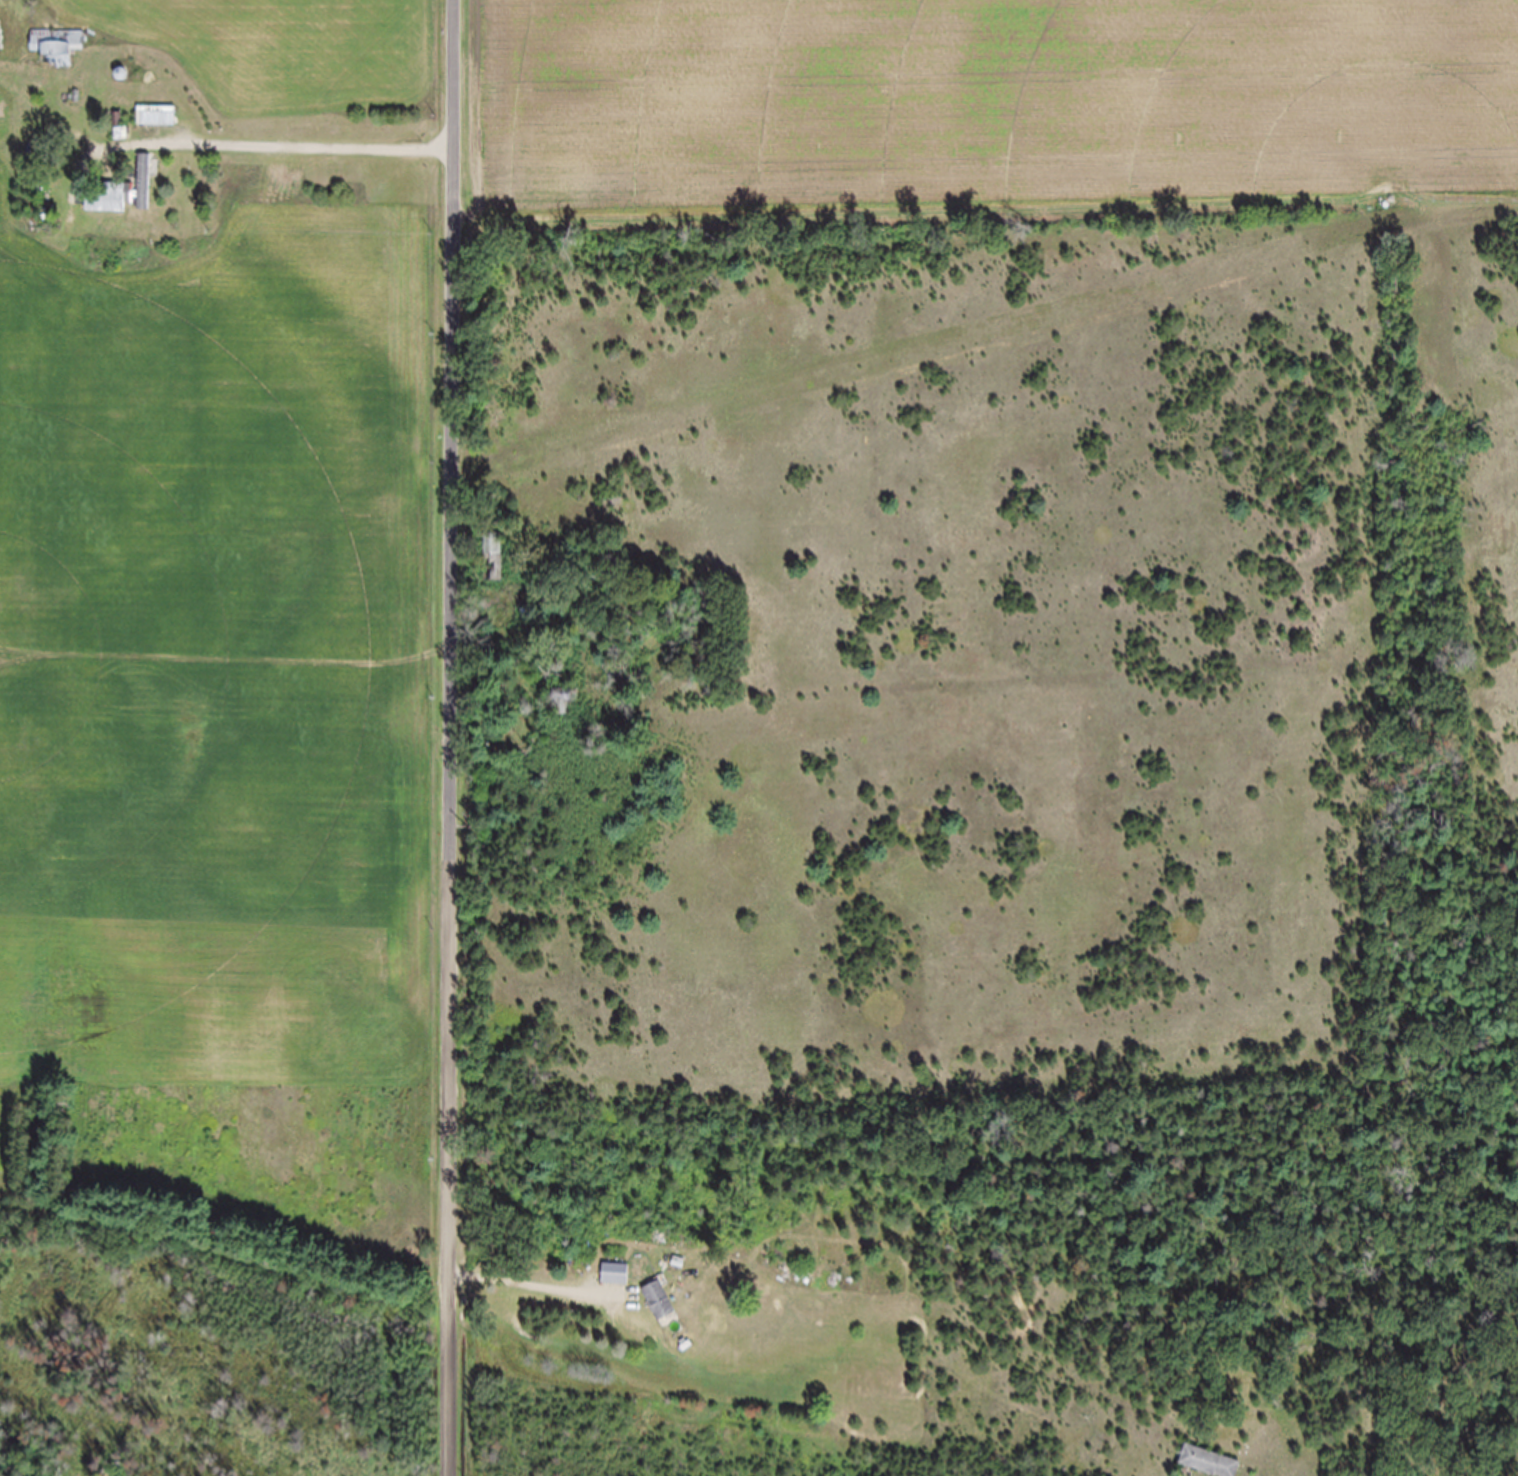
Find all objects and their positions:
building: (56, 57)
building: (148, 132)
building: (141, 203)
building: (94, 221)
building: (494, 566)
building: (564, 712)
road: (451, 737)
building: (613, 1284)
building: (789, 1285)
building: (657, 1311)
building: (1205, 1468)

